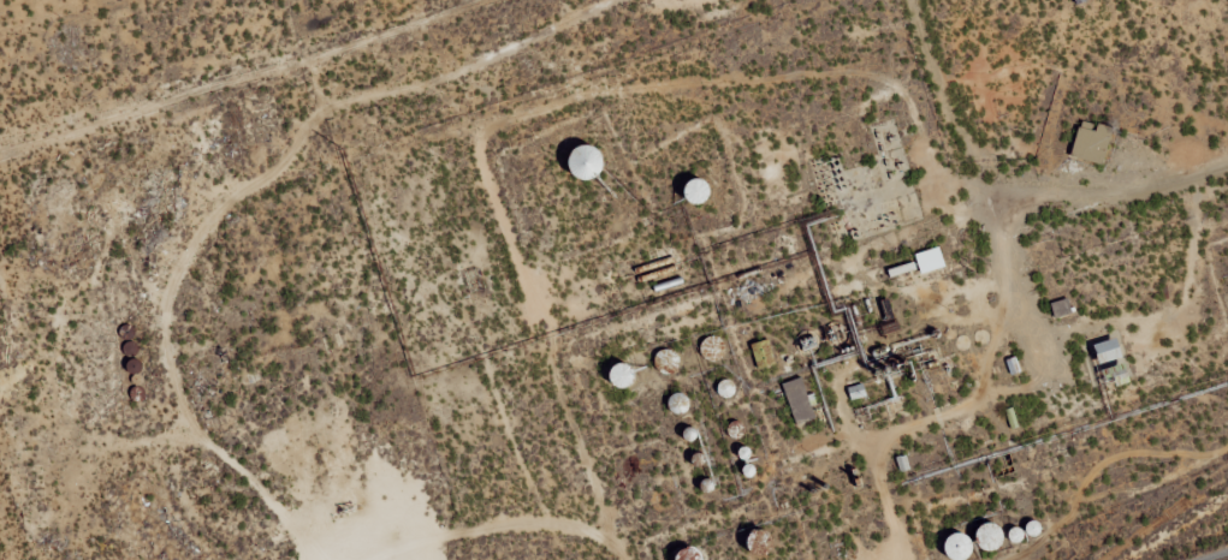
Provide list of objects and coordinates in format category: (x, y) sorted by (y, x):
road: (960, 109)
building: (1094, 142)
building: (595, 161)
road: (1113, 197)
building: (933, 260)
road: (1010, 275)
building: (1063, 308)
building: (1114, 350)
building: (765, 353)
building: (859, 391)
building: (801, 400)
building: (997, 536)
railway: (1227, 559)

